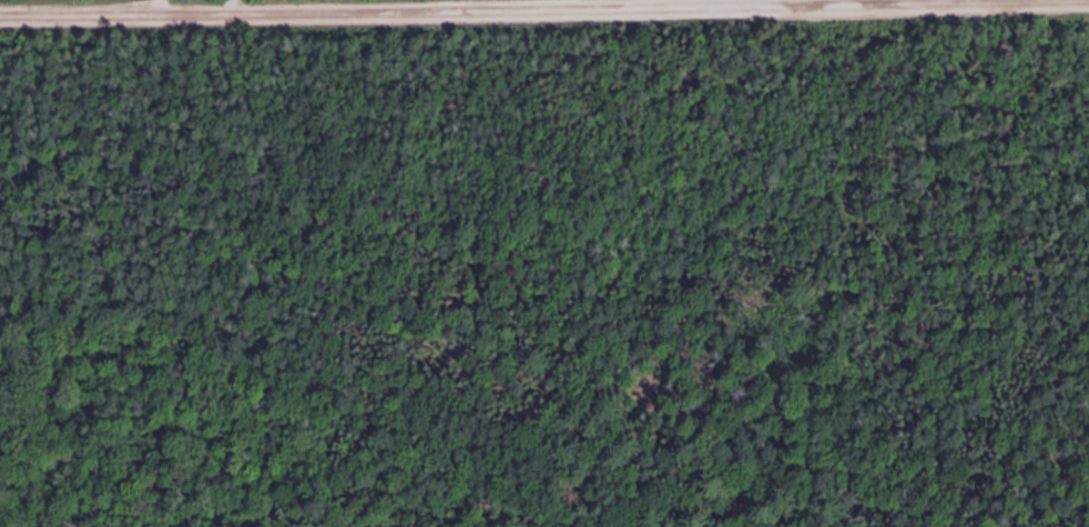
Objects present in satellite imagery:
road: (498, 8)

